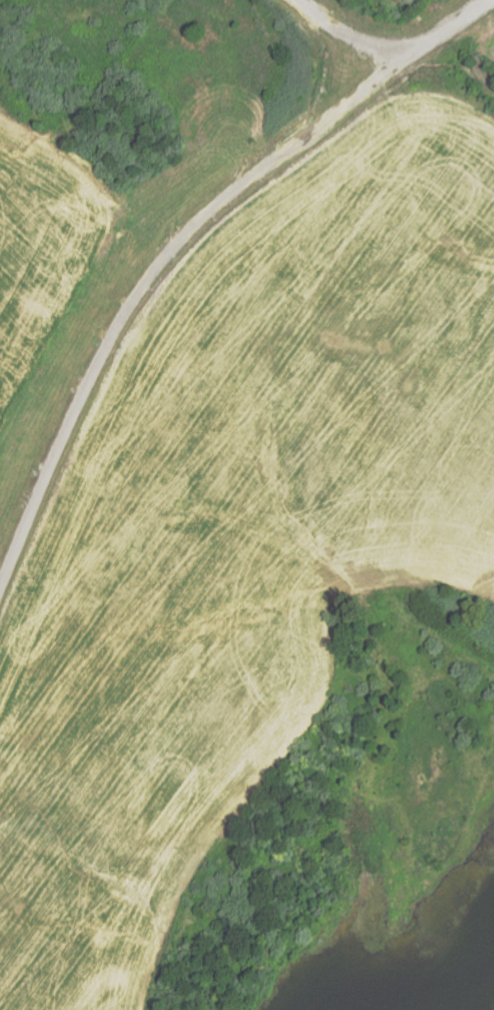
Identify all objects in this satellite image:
road: (387, 63)
road: (145, 283)

